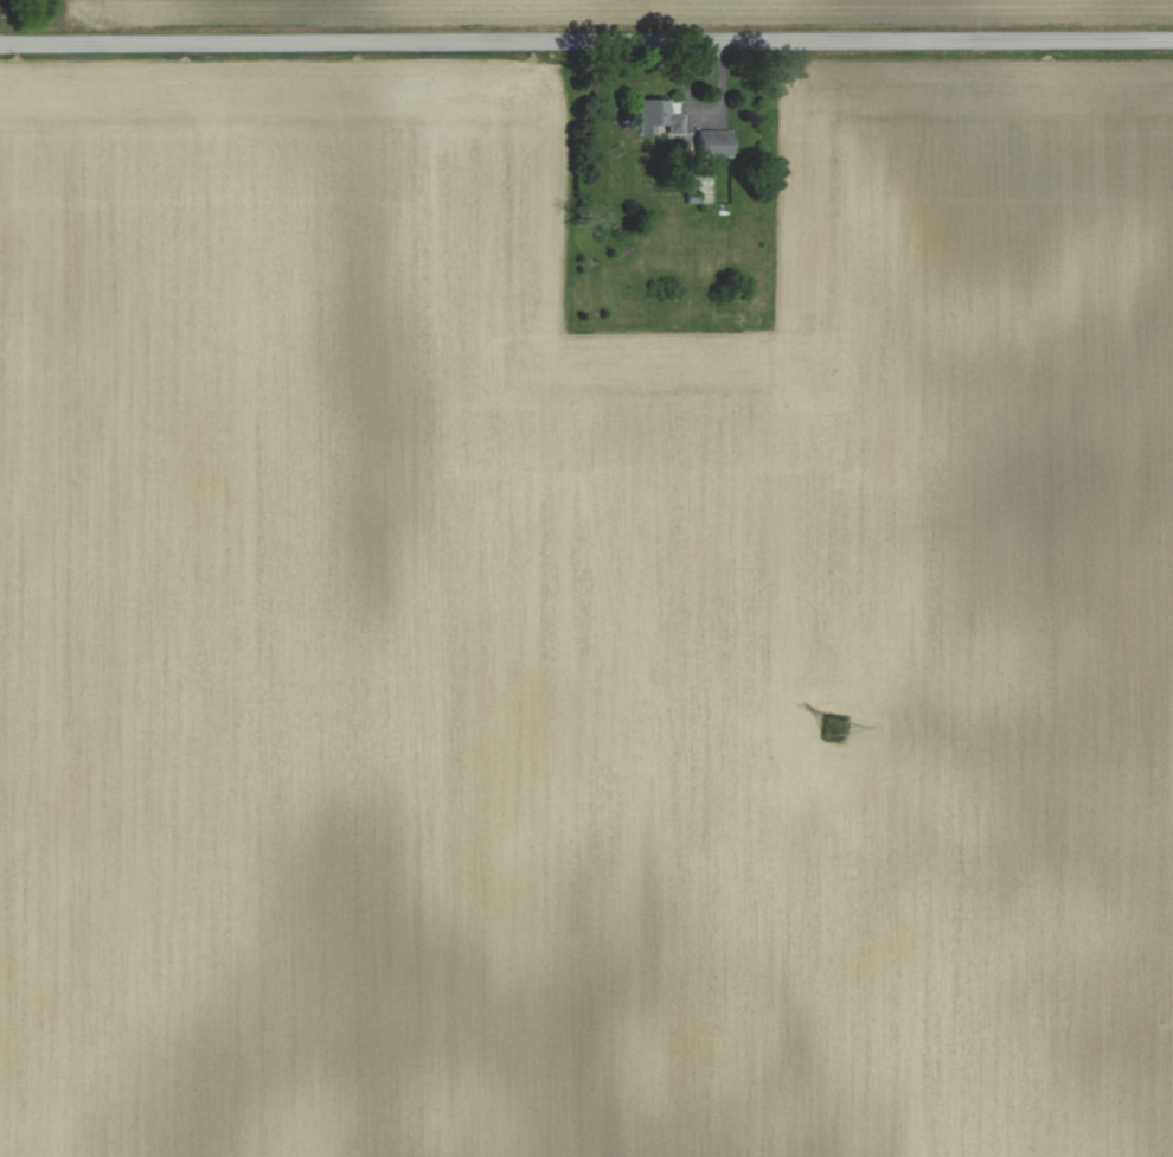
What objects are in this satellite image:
road: (586, 41)
building: (655, 116)
building: (712, 143)
power tower: (834, 731)

